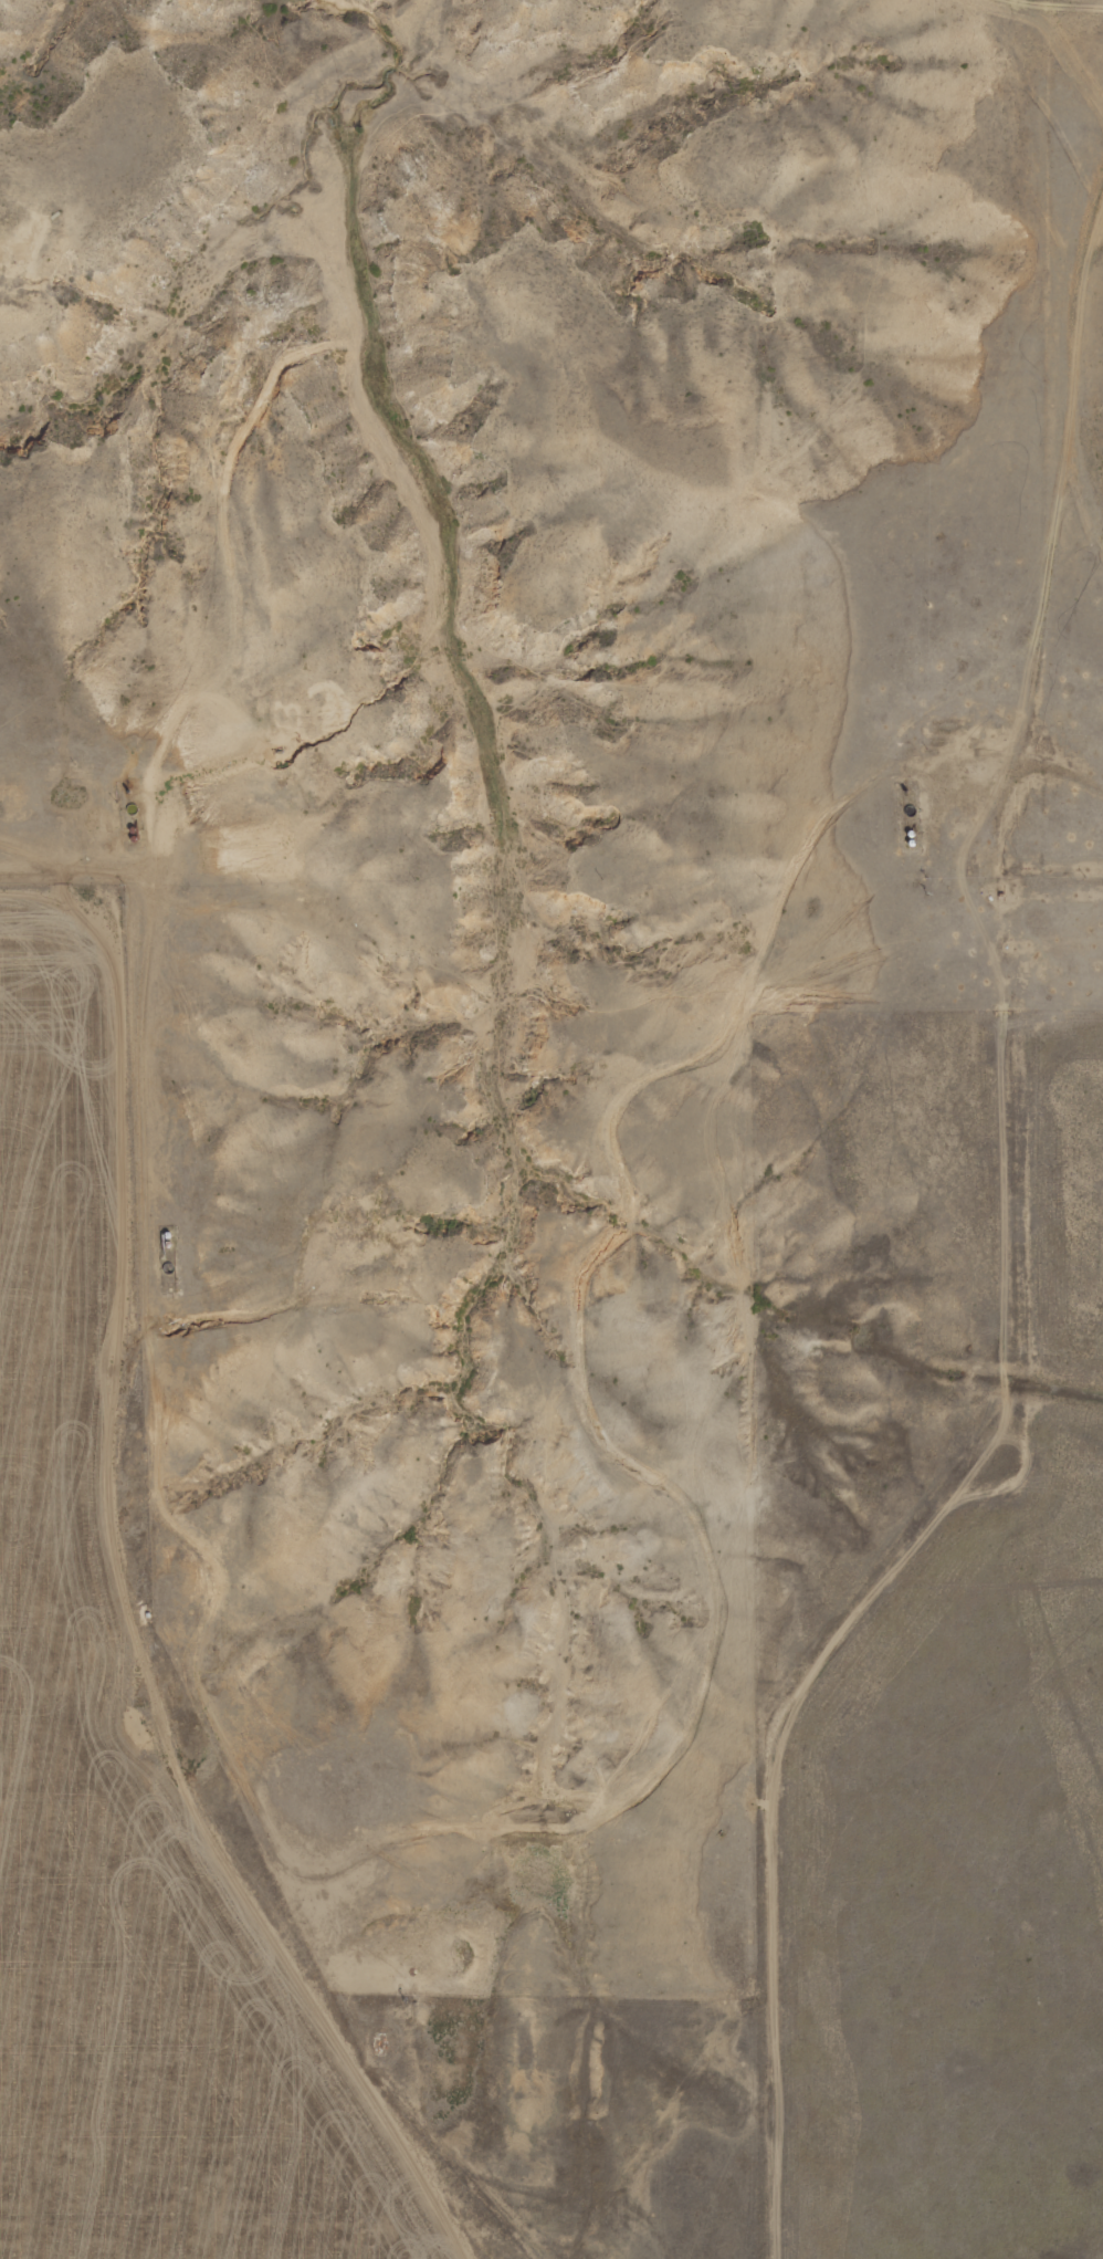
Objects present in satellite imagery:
road: (1075, 364)

